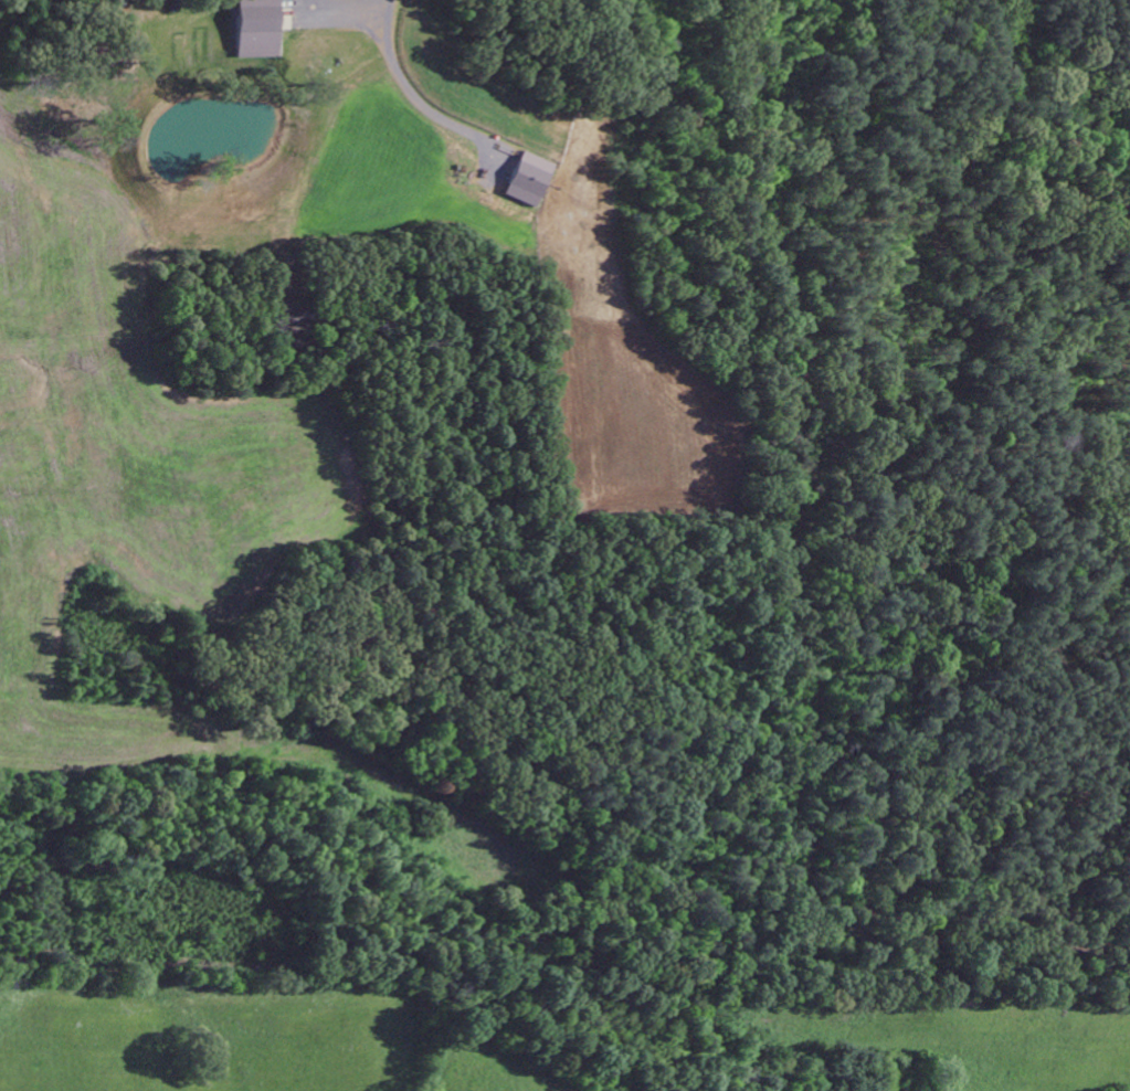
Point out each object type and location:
building: (255, 28)
building: (526, 179)

